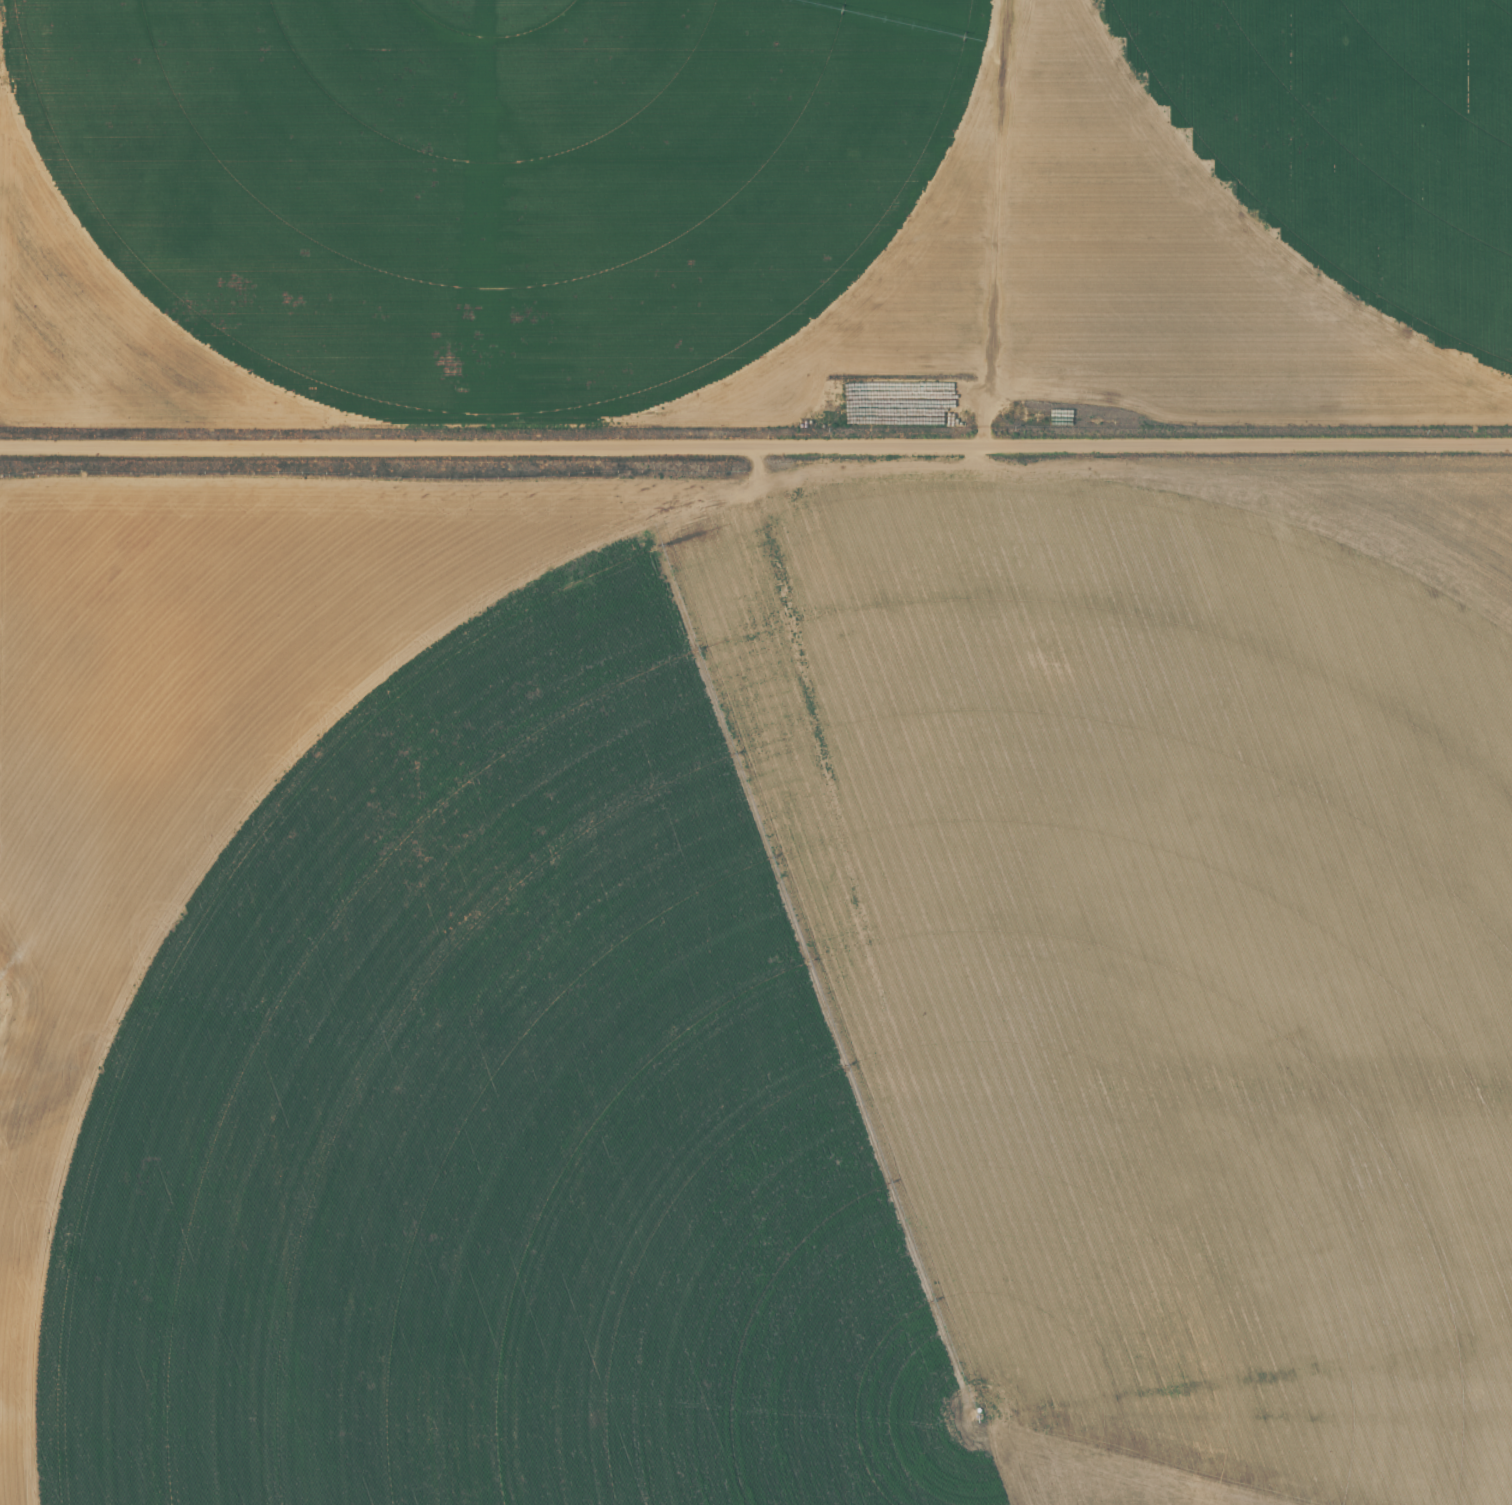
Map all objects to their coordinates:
road: (756, 449)

